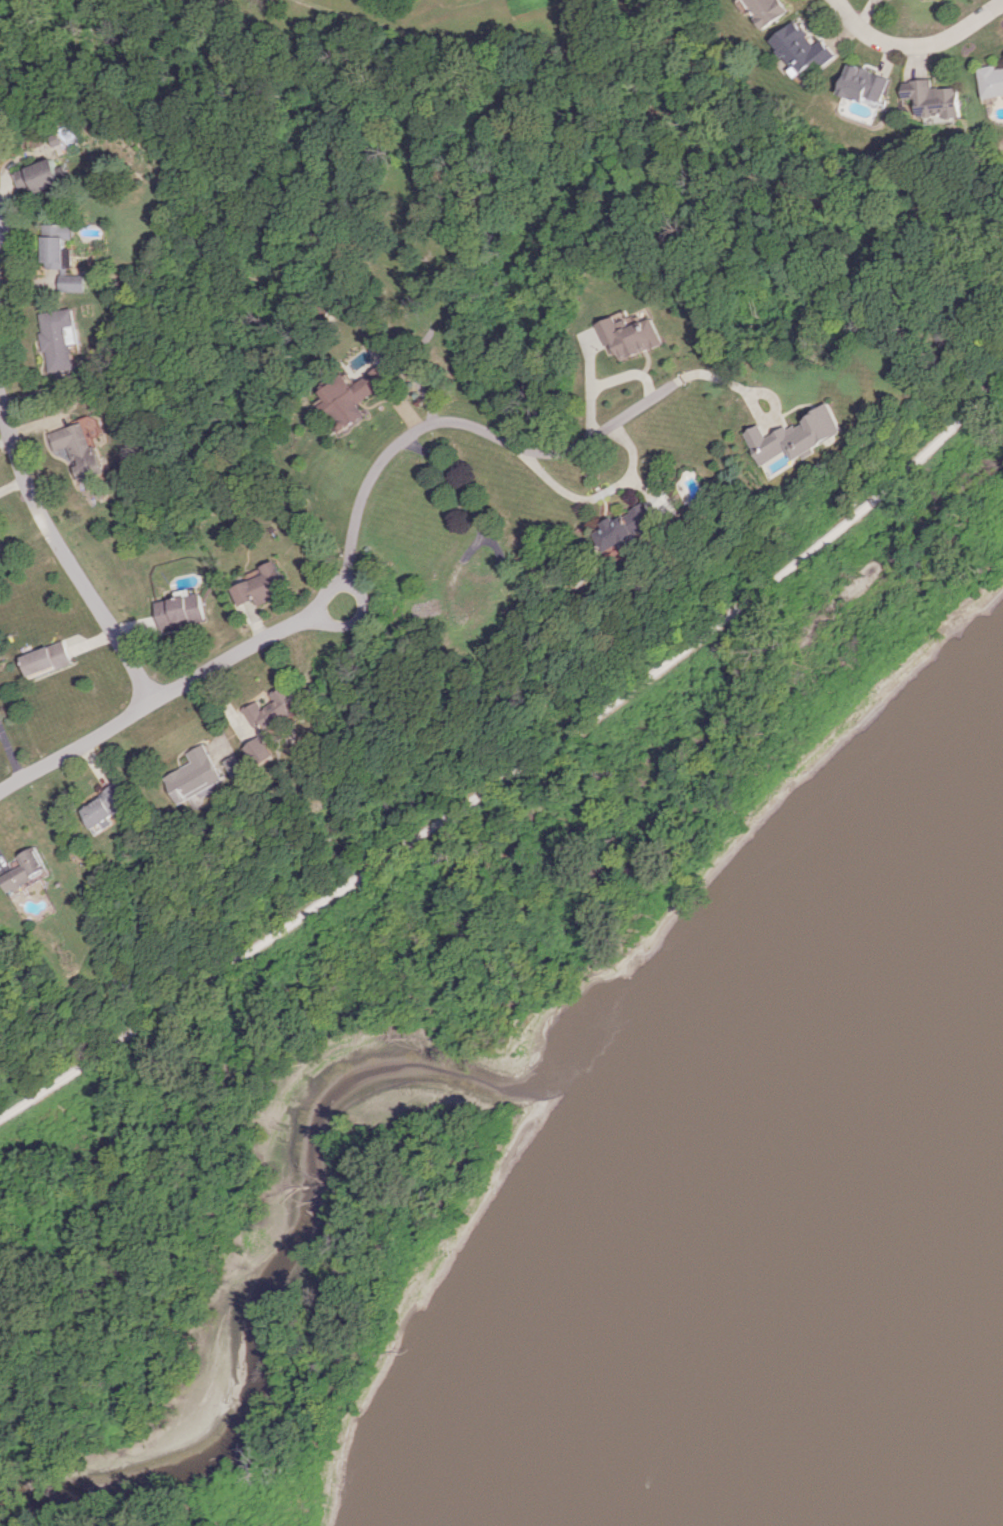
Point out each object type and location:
building: (767, 10)
road: (915, 44)
building: (802, 48)
building: (990, 80)
building: (865, 85)
building: (932, 98)
building: (36, 176)
building: (53, 246)
building: (68, 282)
building: (628, 336)
building: (54, 338)
road: (603, 382)
building: (350, 395)
road: (745, 395)
road: (481, 430)
building: (797, 436)
building: (76, 448)
road: (598, 494)
road: (470, 509)
building: (625, 530)
road: (64, 556)
building: (260, 585)
building: (180, 610)
road: (359, 619)
building: (47, 658)
road: (186, 682)
building: (274, 708)
road: (10, 749)
building: (260, 750)
building: (236, 765)
building: (195, 775)
road: (520, 778)
building: (105, 806)
building: (25, 870)
river: (855, 1274)

